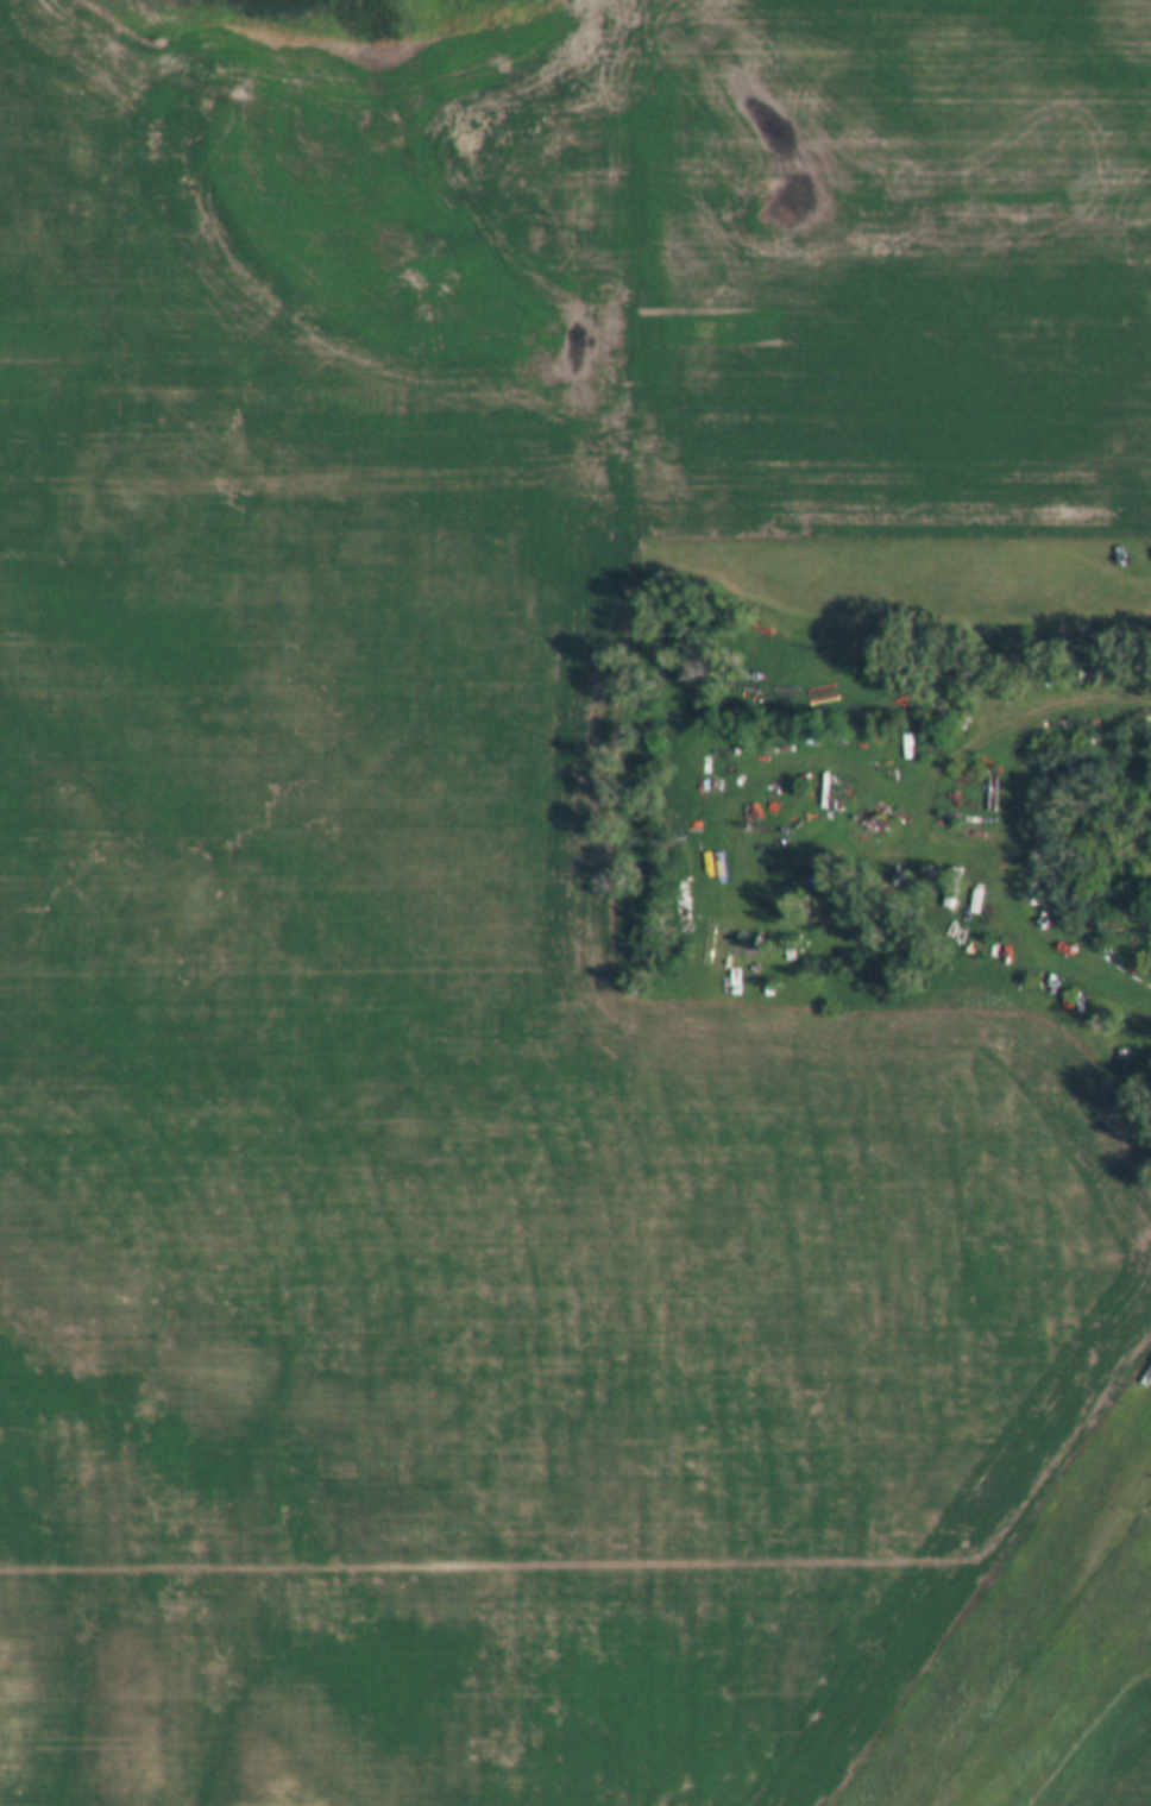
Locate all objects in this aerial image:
building: (1143, 594)

